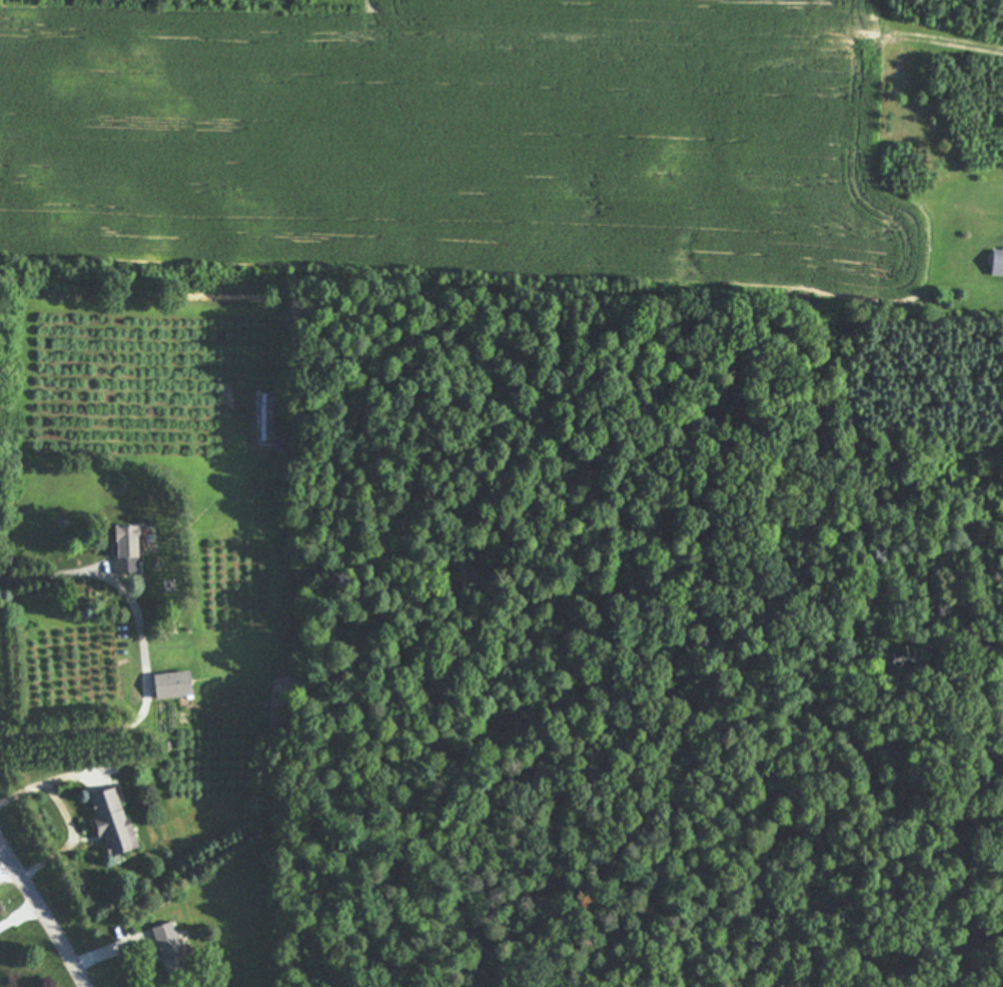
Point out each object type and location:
building: (999, 262)
building: (129, 549)
road: (147, 659)
building: (176, 684)
road: (48, 784)
building: (115, 822)
road: (67, 849)
road: (44, 911)
building: (171, 948)
road: (101, 959)

